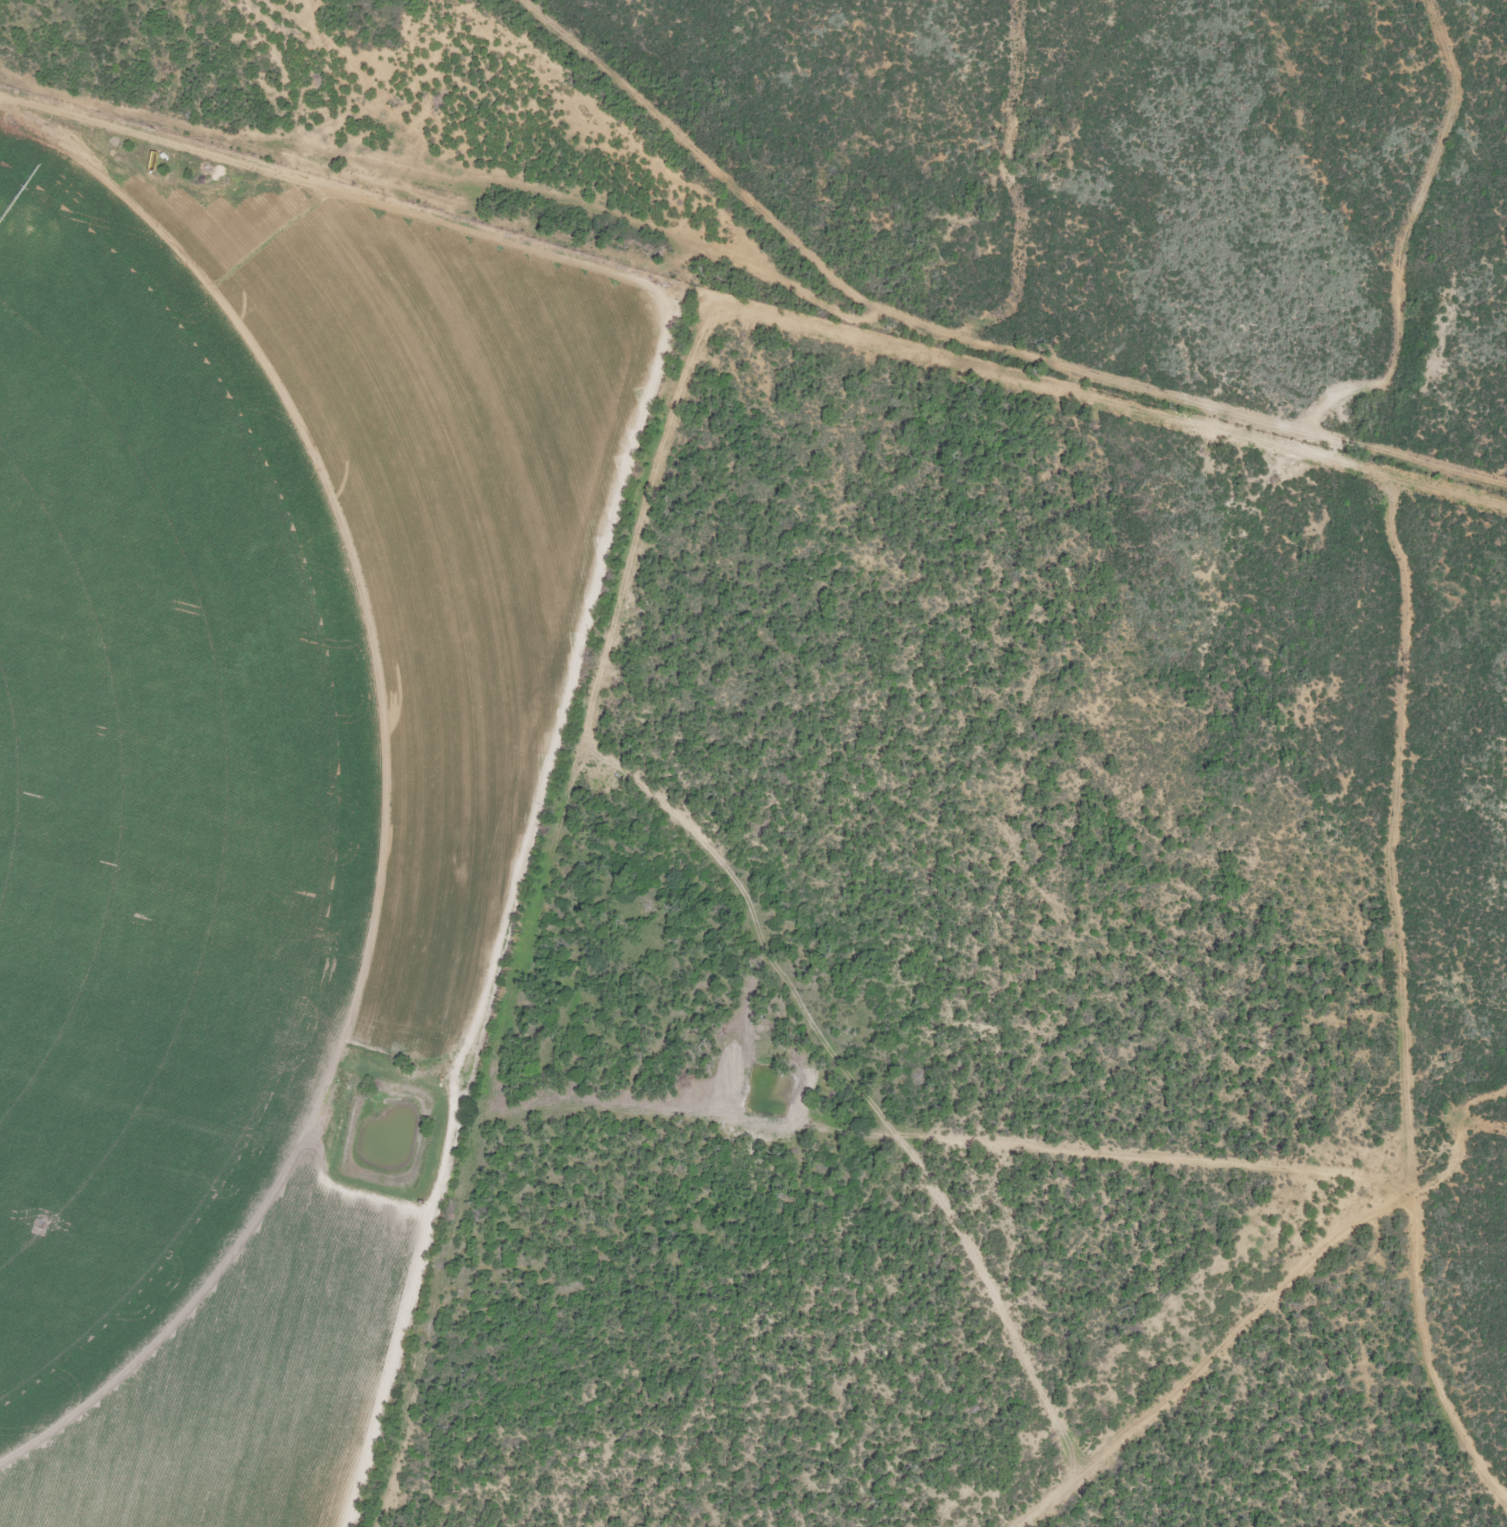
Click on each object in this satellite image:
road: (599, 570)
road: (1266, 1303)

